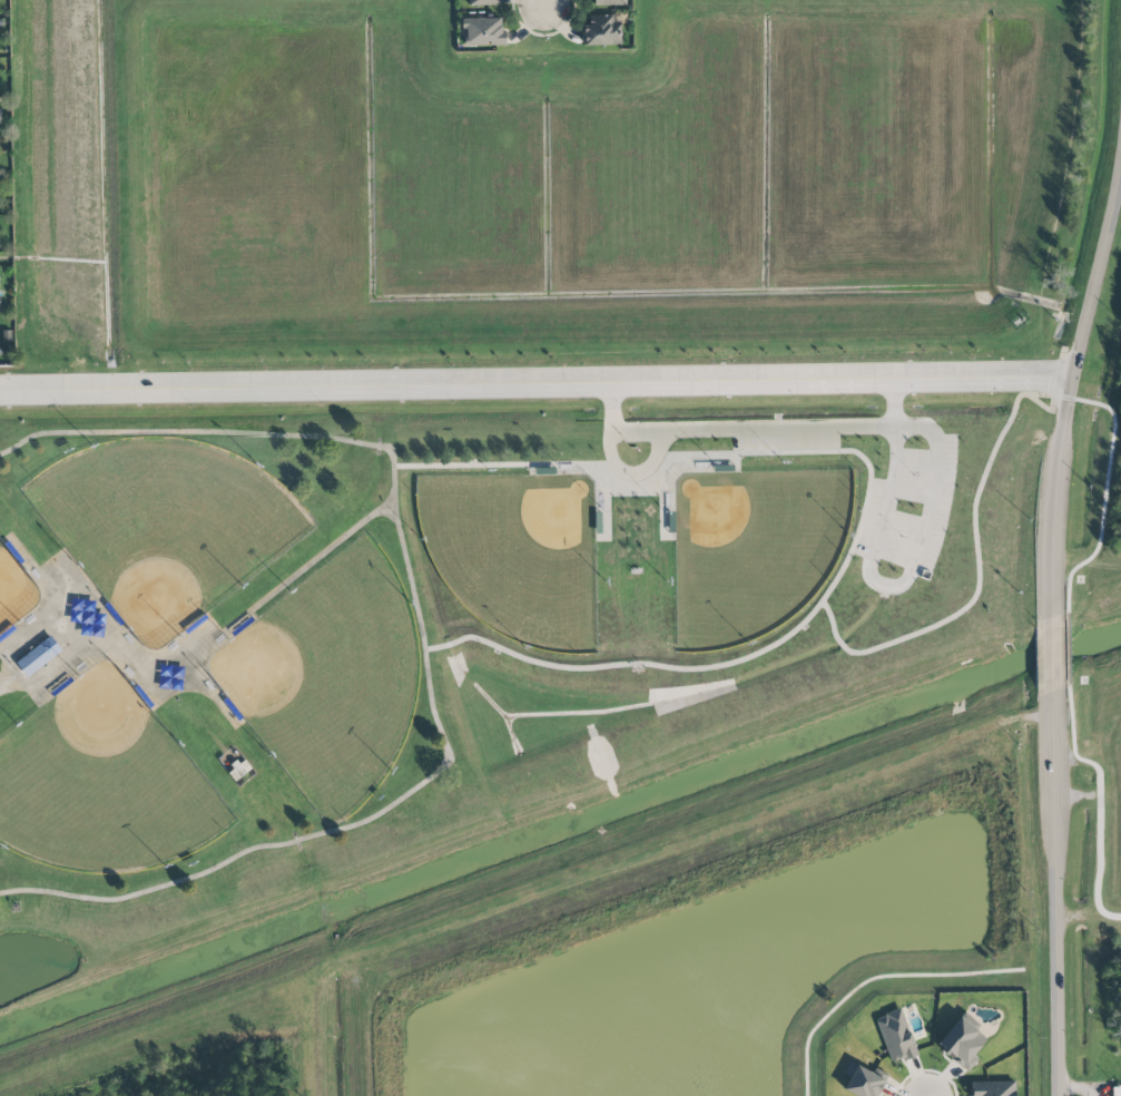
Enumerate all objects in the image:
building: (482, 2)
building: (607, 2)
road: (543, 3)
building: (601, 30)
building: (482, 31)
road: (537, 383)
road: (1069, 385)
road: (196, 429)
road: (755, 429)
road: (905, 581)
park: (450, 617)
park: (185, 646)
road: (1050, 655)
building: (38, 656)
road: (378, 813)
road: (1054, 893)
building: (895, 1036)
building: (962, 1043)
building: (861, 1080)
road: (1078, 1088)
building: (1117, 1090)

